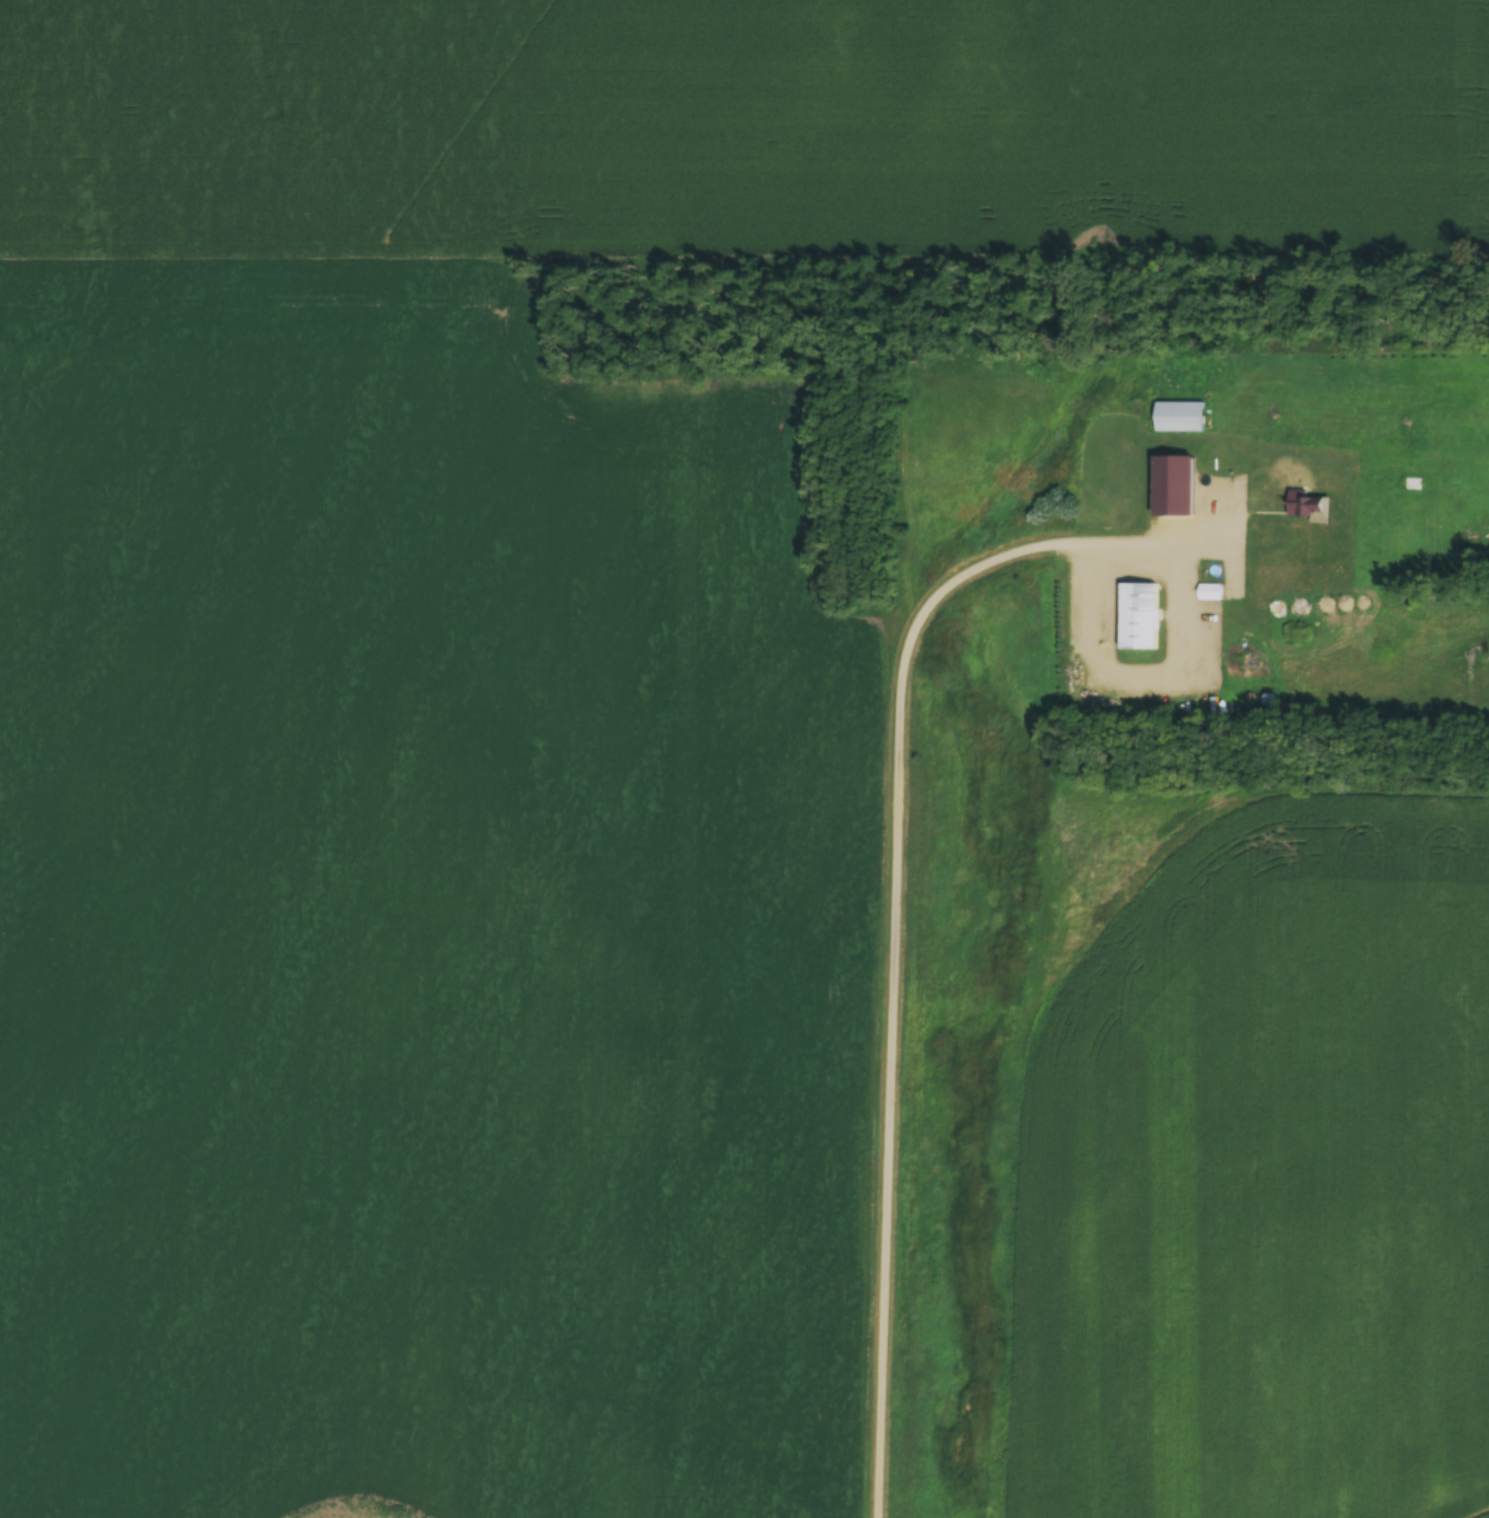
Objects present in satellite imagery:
building: (1176, 419)
building: (1140, 505)
building: (1135, 617)
road: (898, 917)

